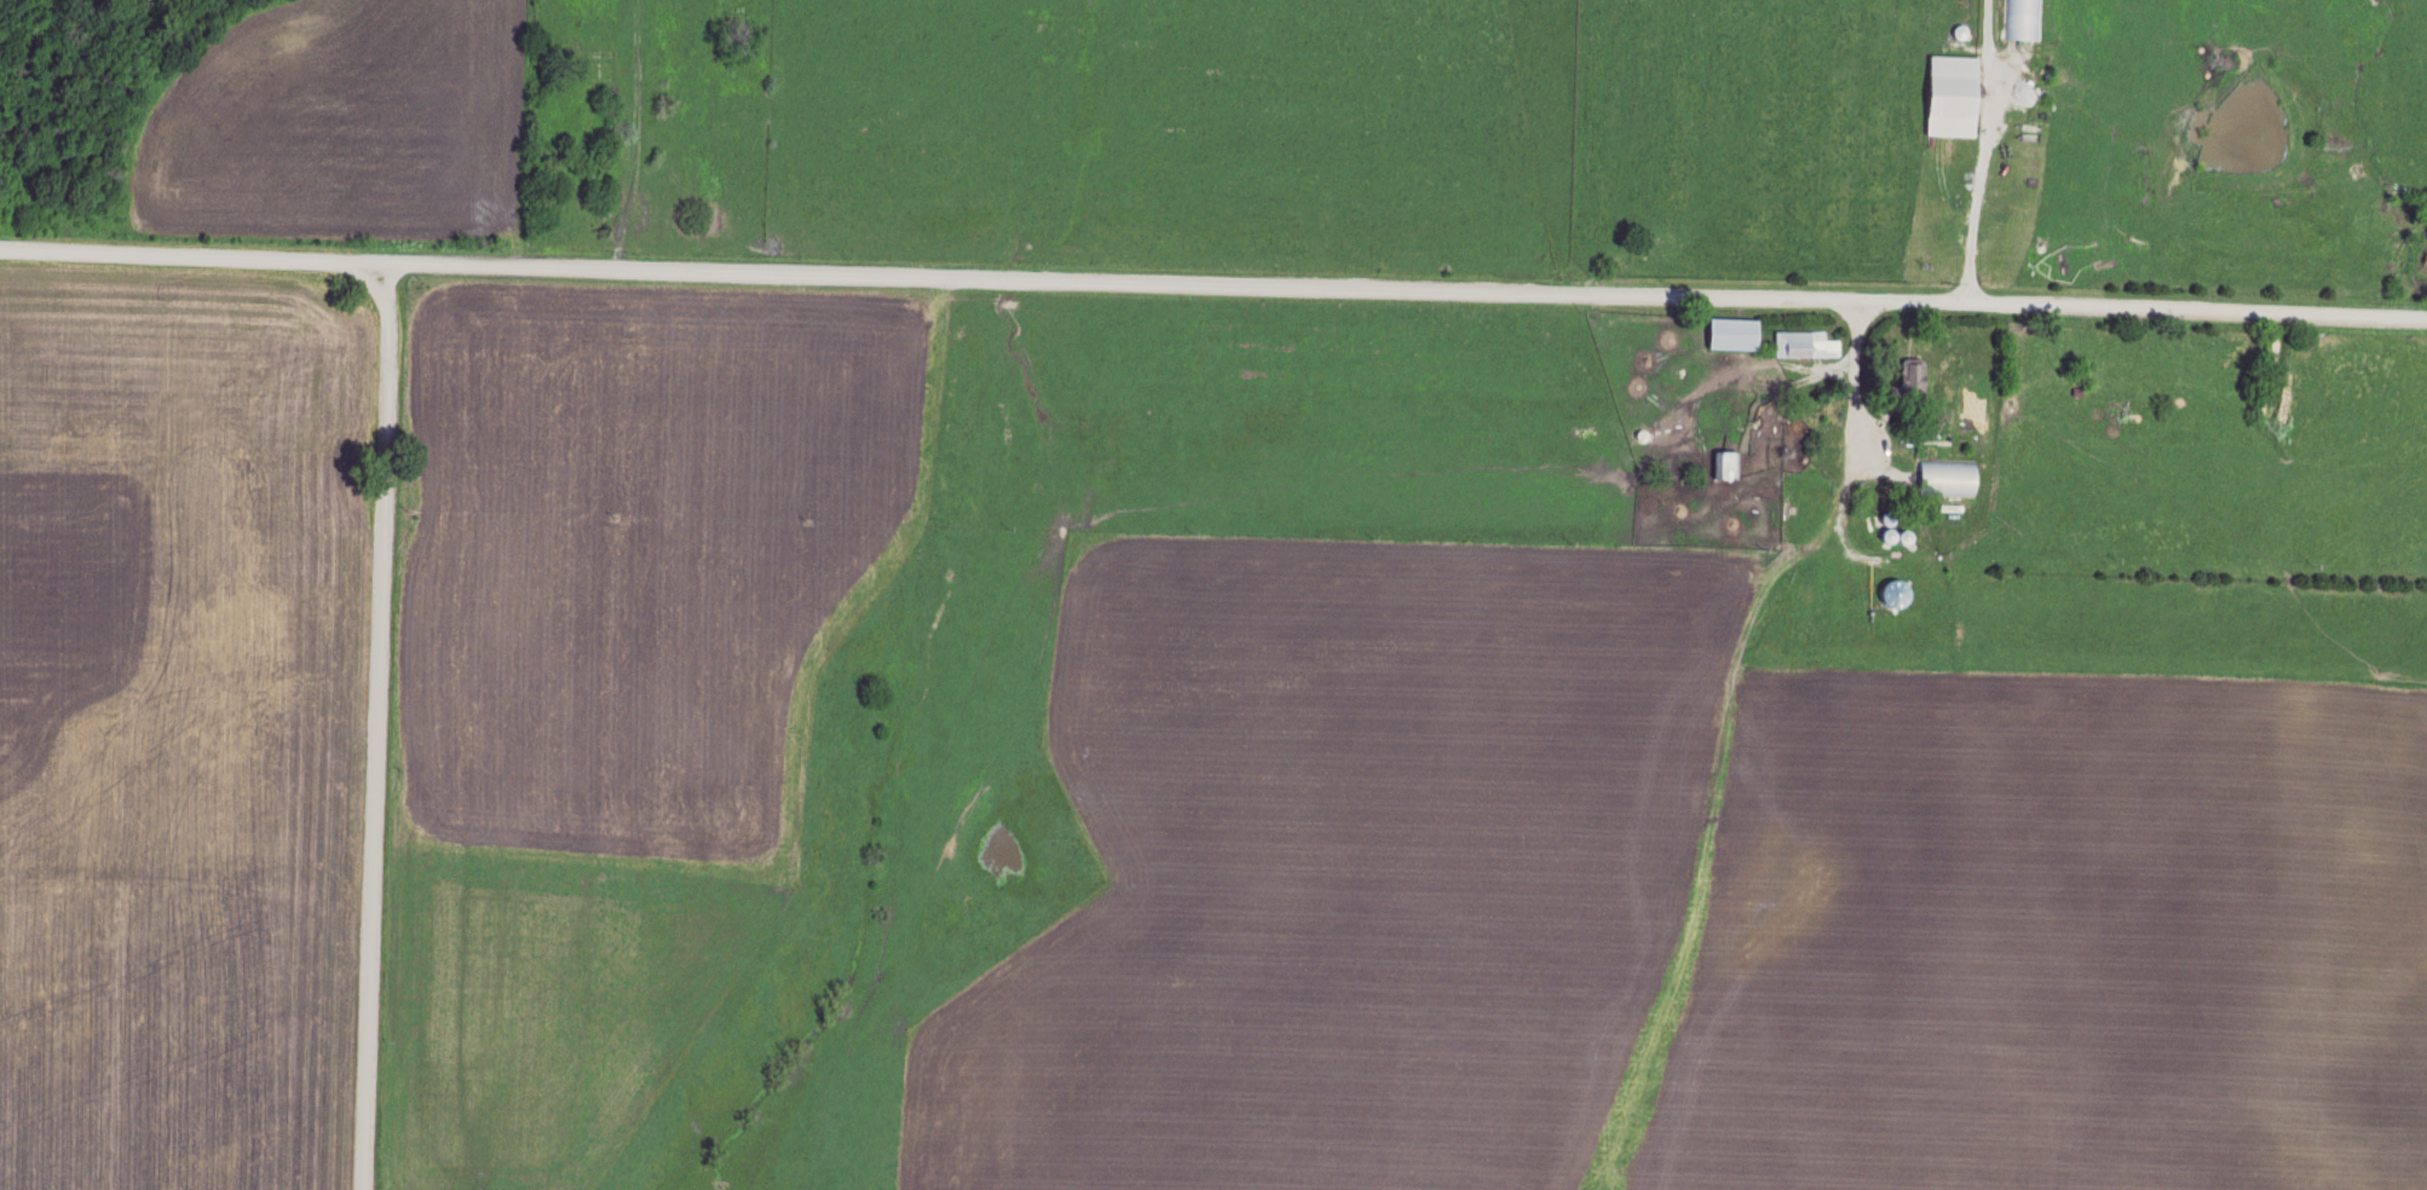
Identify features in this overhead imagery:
building: (2022, 21)
building: (1944, 98)
road: (1972, 195)
road: (1212, 287)
building: (1729, 335)
building: (1801, 346)
road: (1852, 382)
building: (1902, 386)
building: (1723, 467)
building: (1943, 479)
road: (357, 728)

